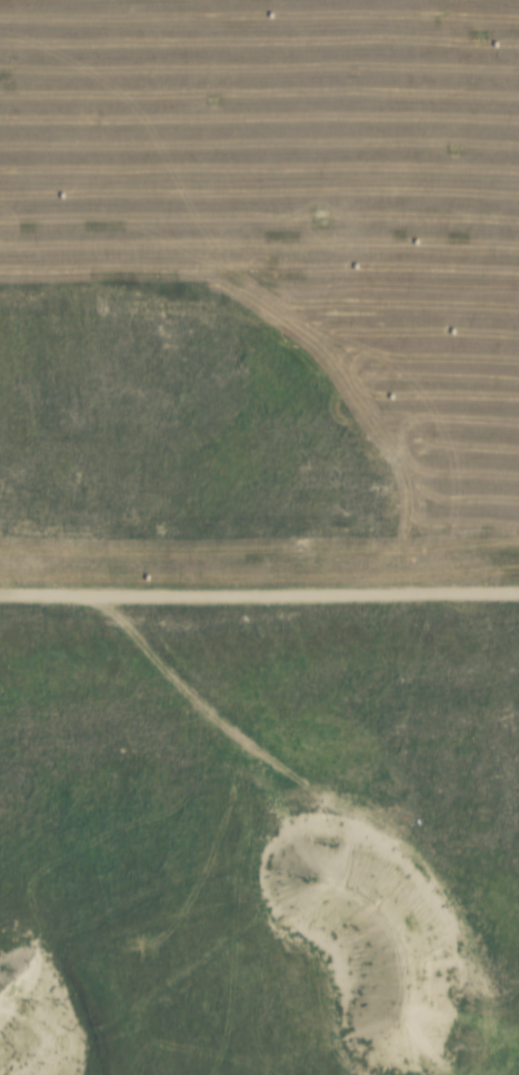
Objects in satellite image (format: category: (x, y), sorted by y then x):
road: (259, 592)

